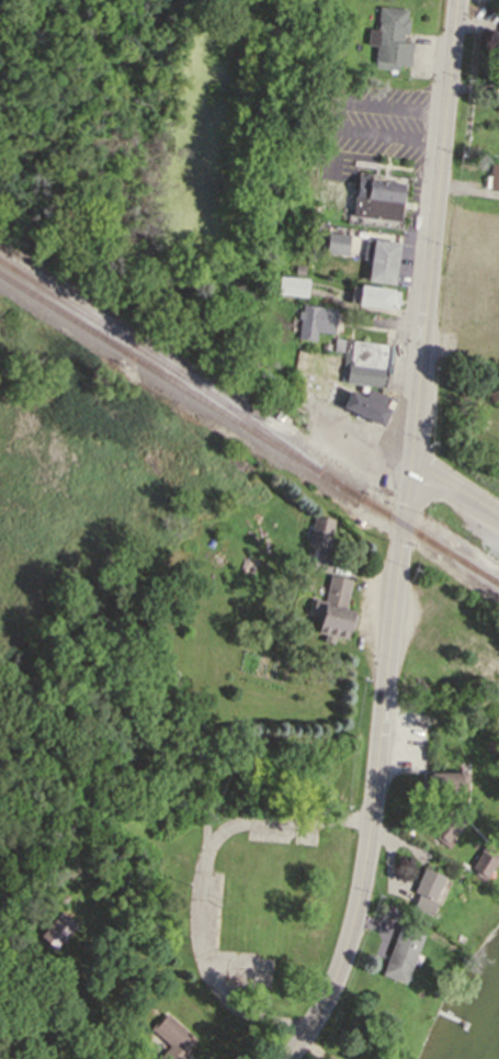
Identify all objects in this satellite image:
building: (388, 37)
building: (496, 101)
building: (492, 176)
building: (376, 199)
road: (430, 234)
building: (338, 245)
building: (382, 259)
building: (298, 268)
building: (291, 284)
building: (375, 296)
building: (315, 320)
building: (363, 361)
railway: (180, 373)
building: (365, 405)
building: (277, 416)
railway: (249, 430)
road: (453, 493)
building: (319, 530)
building: (333, 609)
road: (377, 770)
building: (445, 780)
building: (445, 827)
building: (481, 863)
building: (427, 882)
road: (201, 885)
building: (422, 904)
building: (59, 931)
building: (400, 951)
building: (171, 1037)

